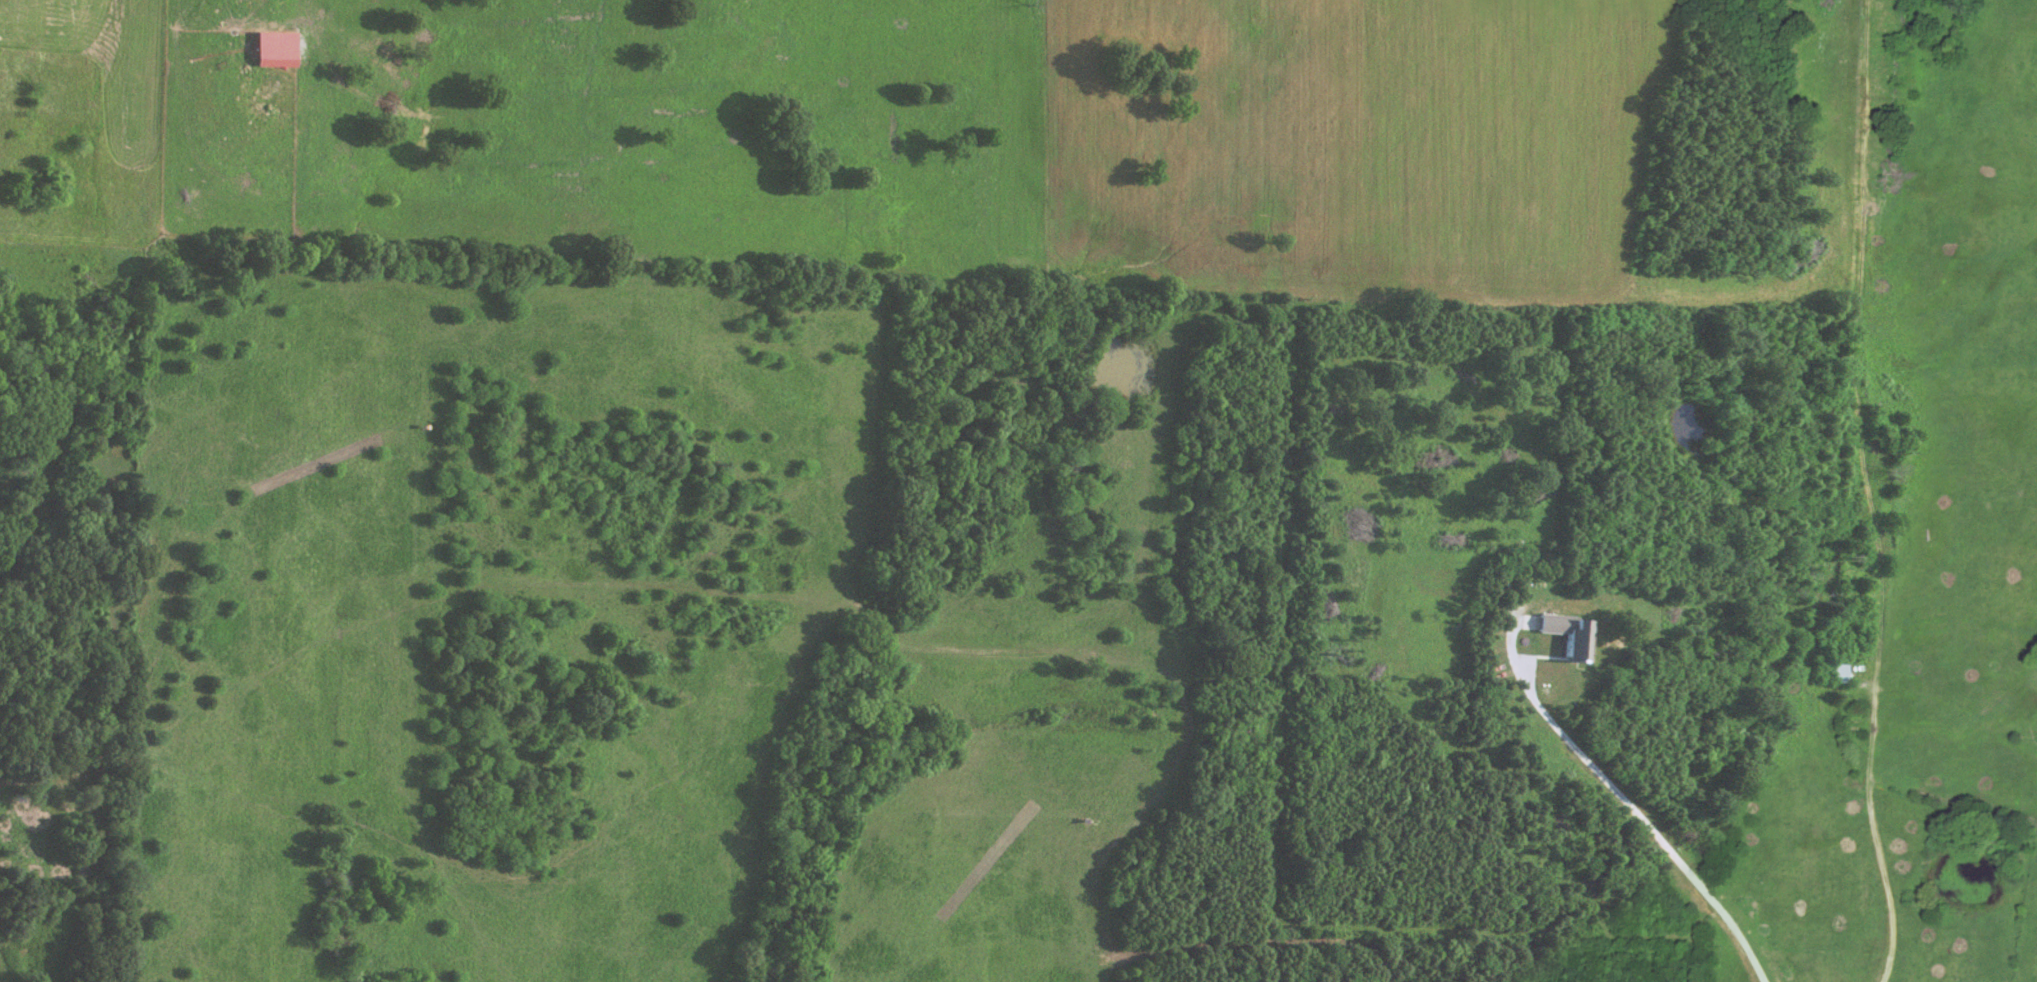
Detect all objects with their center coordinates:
building: (1841, 674)
road: (1872, 813)

